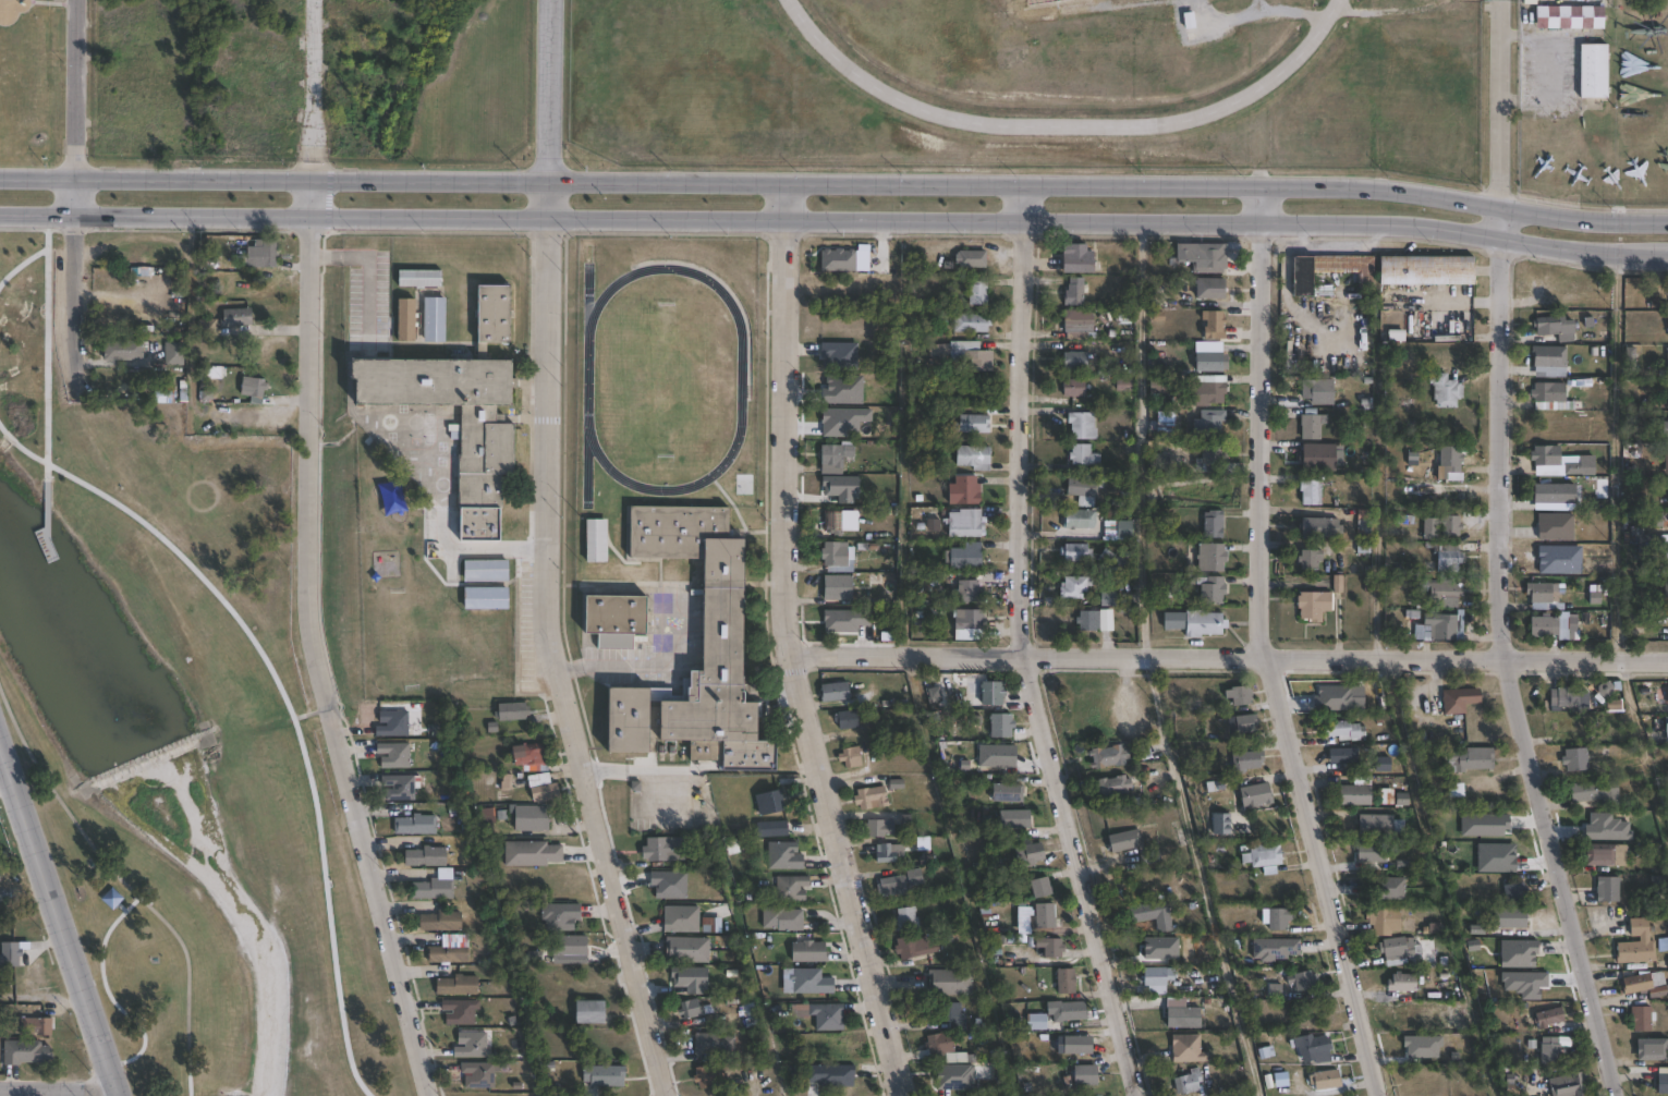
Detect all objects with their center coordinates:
building: (1571, 16)
road: (1244, 19)
building: (1592, 69)
park: (25, 70)
airport: (1027, 83)
road: (1500, 103)
road: (81, 106)
road: (315, 108)
road: (836, 182)
road: (832, 215)
building: (256, 254)
building: (1201, 257)
building: (970, 258)
building: (1073, 258)
road: (1665, 258)
road: (20, 260)
building: (1425, 270)
building: (415, 278)
building: (1301, 278)
building: (1208, 288)
building: (976, 291)
building: (1072, 292)
road: (82, 306)
building: (232, 317)
building: (406, 320)
building: (434, 320)
building: (970, 322)
building: (1076, 324)
building: (1212, 325)
building: (205, 327)
building: (1555, 327)
building: (937, 349)
building: (119, 350)
building: (171, 354)
building: (838, 355)
building: (1544, 356)
building: (976, 360)
building: (1207, 360)
building: (1630, 360)
building: (1074, 361)
building: (1664, 370)
park: (663, 377)
track: (740, 379)
building: (1072, 387)
building: (253, 388)
building: (1155, 389)
building: (1206, 390)
building: (1444, 390)
building: (1317, 391)
building: (161, 394)
building: (1551, 397)
building: (460, 409)
road: (307, 421)
building: (971, 424)
building: (1208, 424)
building: (1081, 425)
building: (1310, 427)
building: (1665, 430)
road: (1140, 437)
road: (20, 447)
building: (1082, 455)
building: (1545, 455)
building: (972, 456)
building: (1667, 456)
building: (832, 458)
building: (1319, 458)
building: (1365, 459)
building: (1214, 460)
road: (1616, 460)
building: (1448, 461)
building: (1581, 466)
building: (1549, 471)
building: (1667, 472)
building: (1080, 487)
building: (963, 490)
building: (1310, 492)
building: (1550, 494)
building: (1654, 519)
building: (1074, 520)
building: (1363, 521)
building: (836, 523)
building: (963, 523)
building: (1212, 524)
building: (1440, 526)
building: (1318, 527)
building: (1555, 527)
building: (1123, 529)
building: (1647, 538)
building: (595, 539)
building: (1073, 552)
building: (832, 553)
road: (545, 556)
building: (962, 557)
building: (1209, 558)
building: (1447, 558)
building: (1113, 559)
building: (1307, 559)
building: (1666, 559)
building: (483, 570)
building: (1402, 570)
building: (837, 587)
building: (1073, 587)
building: (1665, 589)
building: (1442, 590)
building: (1212, 592)
building: (964, 593)
building: (1543, 596)
building: (483, 597)
building: (1107, 599)
building: (1312, 606)
building: (720, 612)
building: (611, 613)
building: (1086, 621)
building: (1192, 623)
building: (965, 624)
building: (1440, 626)
building: (1543, 626)
road: (242, 628)
road: (789, 646)
road: (1019, 647)
road: (1263, 647)
road: (1229, 655)
road: (1507, 658)
building: (833, 692)
building: (990, 693)
building: (1239, 695)
building: (1607, 695)
building: (1563, 696)
building: (1458, 701)
building: (509, 711)
building: (844, 720)
building: (1244, 723)
building: (389, 724)
building: (999, 726)
building: (1666, 729)
building: (1341, 731)
park: (175, 733)
building: (391, 755)
building: (1342, 756)
building: (527, 757)
building: (849, 757)
building: (1107, 757)
building: (1574, 759)
building: (1245, 762)
building: (1464, 767)
building: (537, 780)
building: (1110, 786)
building: (397, 787)
building: (1005, 793)
building: (543, 794)
building: (1254, 795)
building: (1353, 795)
building: (1594, 795)
building: (869, 797)
building: (766, 801)
building: (528, 819)
building: (1012, 820)
building: (1221, 824)
building: (1374, 825)
building: (412, 826)
building: (776, 827)
building: (876, 829)
building: (1121, 841)
building: (658, 848)
building: (886, 853)
building: (528, 854)
building: (1027, 854)
building: (781, 855)
building: (1605, 855)
building: (1459, 856)
building: (422, 857)
building: (1262, 857)
road: (367, 861)
road: (1200, 875)
building: (897, 881)
road: (126, 882)
building: (1039, 886)
building: (433, 887)
building: (789, 887)
building: (1389, 889)
building: (1606, 889)
building: (1512, 890)
building: (111, 897)
building: (1141, 911)
building: (1043, 914)
building: (557, 915)
building: (1509, 916)
building: (779, 917)
building: (904, 917)
building: (1275, 917)
road: (60, 918)
building: (678, 918)
building: (1383, 918)
building: (437, 922)
building: (710, 924)
building: (1152, 943)
building: (1635, 943)
building: (912, 946)
building: (1048, 946)
building: (569, 947)
building: (1274, 948)
building: (1398, 949)
building: (447, 950)
building: (685, 950)
building: (807, 950)
building: (11, 955)
building: (1156, 975)
building: (1302, 978)
building: (814, 979)
building: (1063, 979)
building: (1401, 981)
building: (950, 982)
building: (1636, 982)
road: (104, 986)
building: (453, 986)
building: (1658, 991)
building: (687, 1008)
building: (1066, 1008)
building: (585, 1011)
building: (948, 1011)
building: (456, 1012)
building: (826, 1014)
building: (1182, 1016)
building: (1548, 1016)
building: (1641, 1016)
building: (1035, 1021)
building: (37, 1027)
building: (468, 1044)
building: (711, 1044)
building: (1072, 1044)
building: (933, 1045)
building: (1311, 1046)
building: (1186, 1047)
building: (840, 1048)
building: (1551, 1048)
building: (1652, 1048)
building: (21, 1052)
building: (476, 1073)
building: (1084, 1074)
building: (601, 1075)
building: (707, 1075)
building: (1326, 1080)
building: (853, 1081)
building: (1186, 1082)
building: (1663, 1083)
building: (1568, 1084)
road: (60, 1086)
road: (66, 1092)

